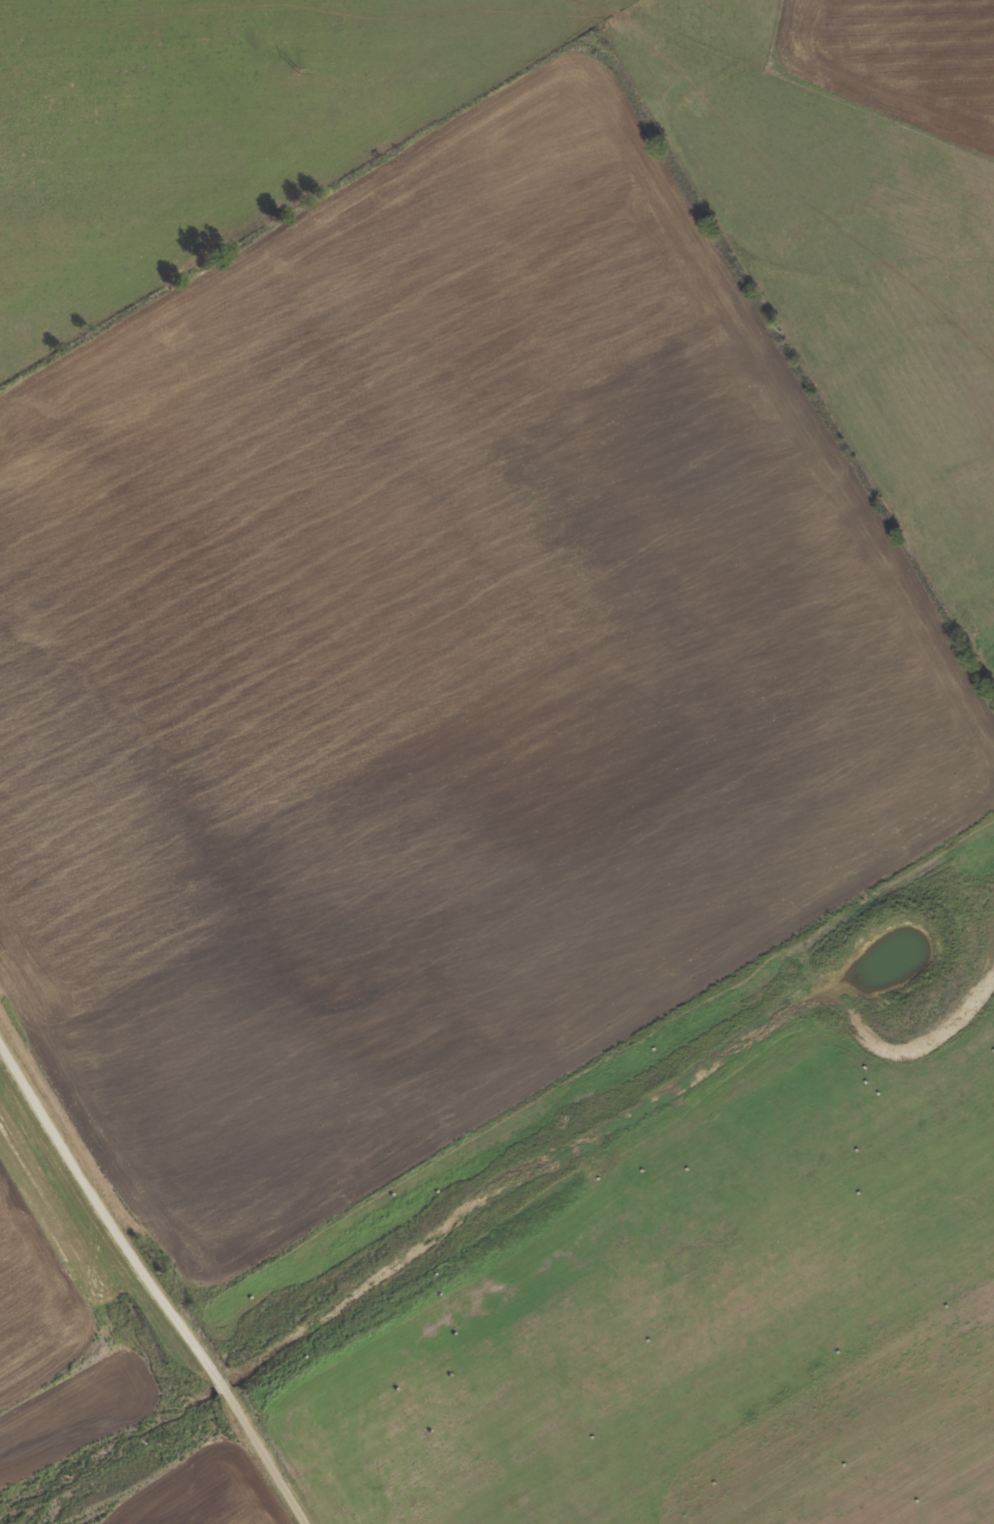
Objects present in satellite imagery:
power tower: (300, 68)
road: (150, 1280)

